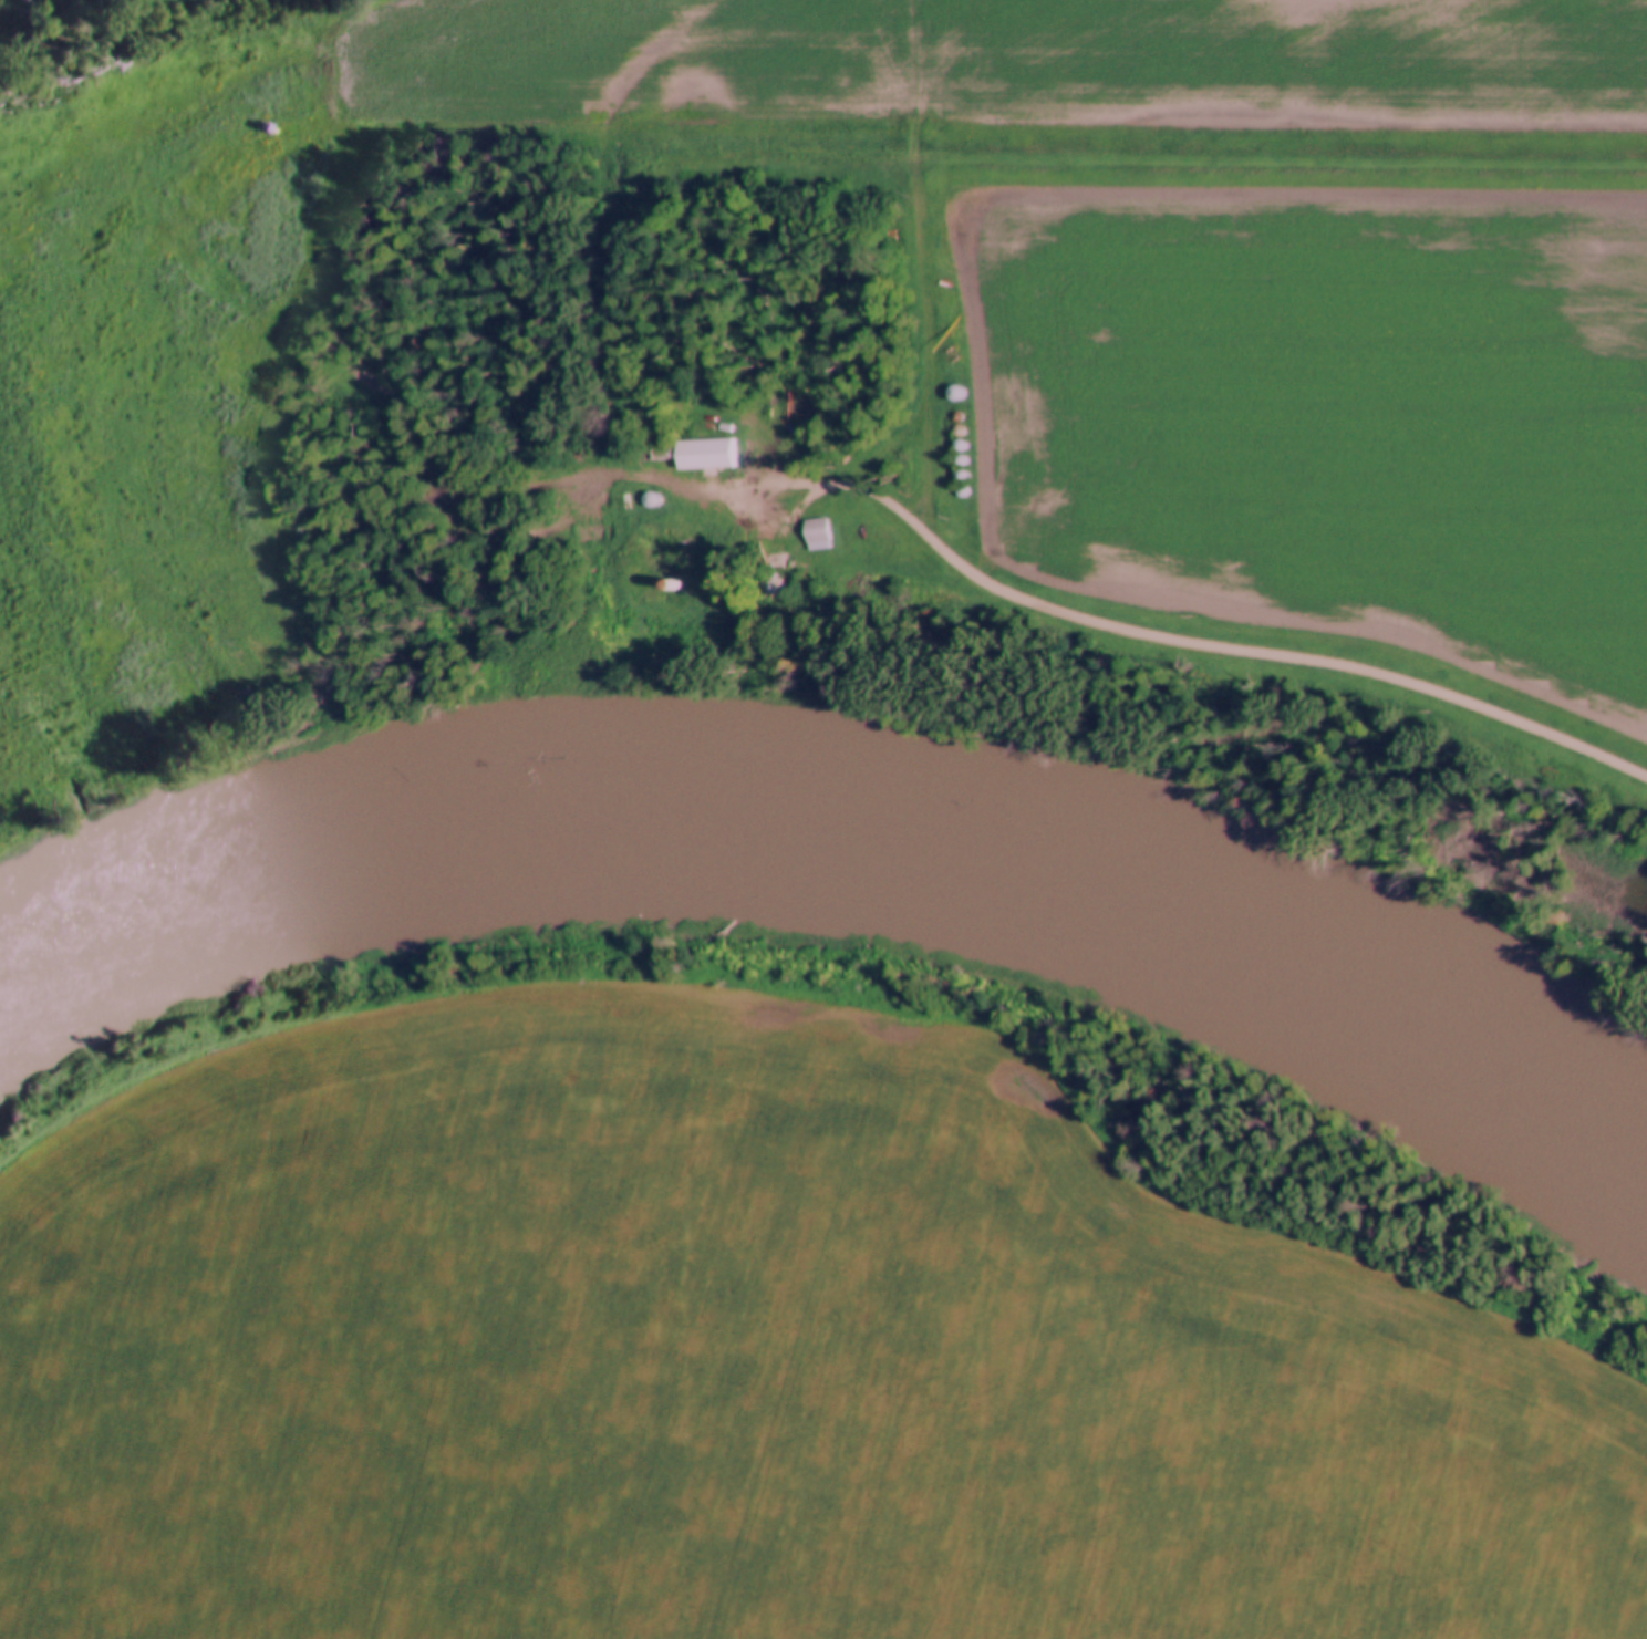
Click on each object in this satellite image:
road: (32, 148)
road: (993, 155)
road: (29, 164)
road: (920, 324)
road: (384, 397)
building: (714, 453)
road: (745, 512)
building: (821, 531)
building: (675, 558)
road: (1222, 646)
river: (831, 852)

